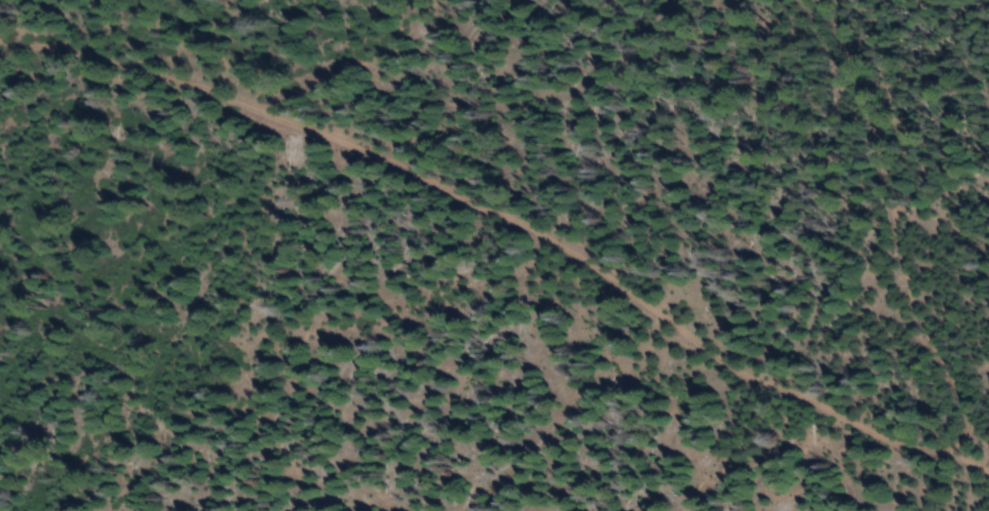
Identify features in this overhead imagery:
road: (197, 144)
road: (514, 216)
road: (896, 228)

